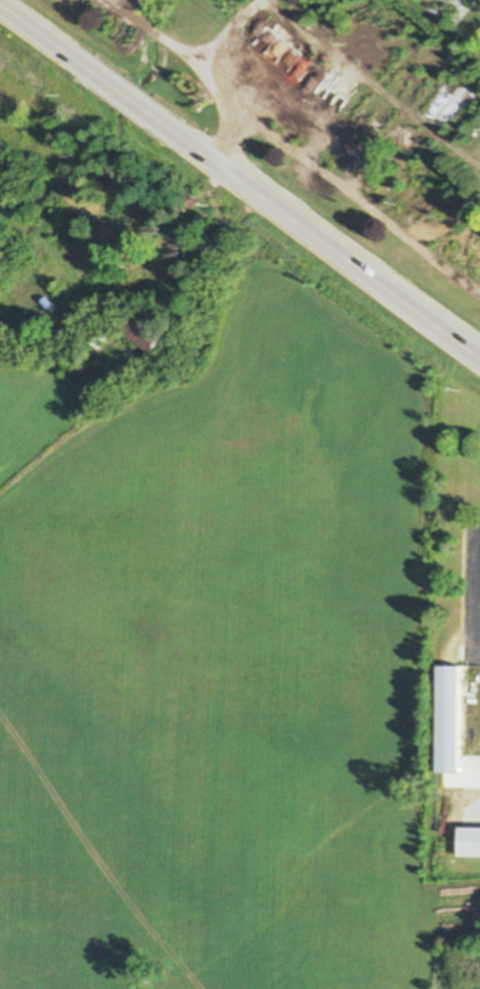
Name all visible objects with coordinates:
road: (219, 24)
road: (200, 62)
road: (239, 179)
road: (358, 194)
building: (138, 215)
building: (419, 229)
building: (114, 234)
building: (120, 272)
building: (99, 330)
road: (479, 588)
building: (469, 838)

